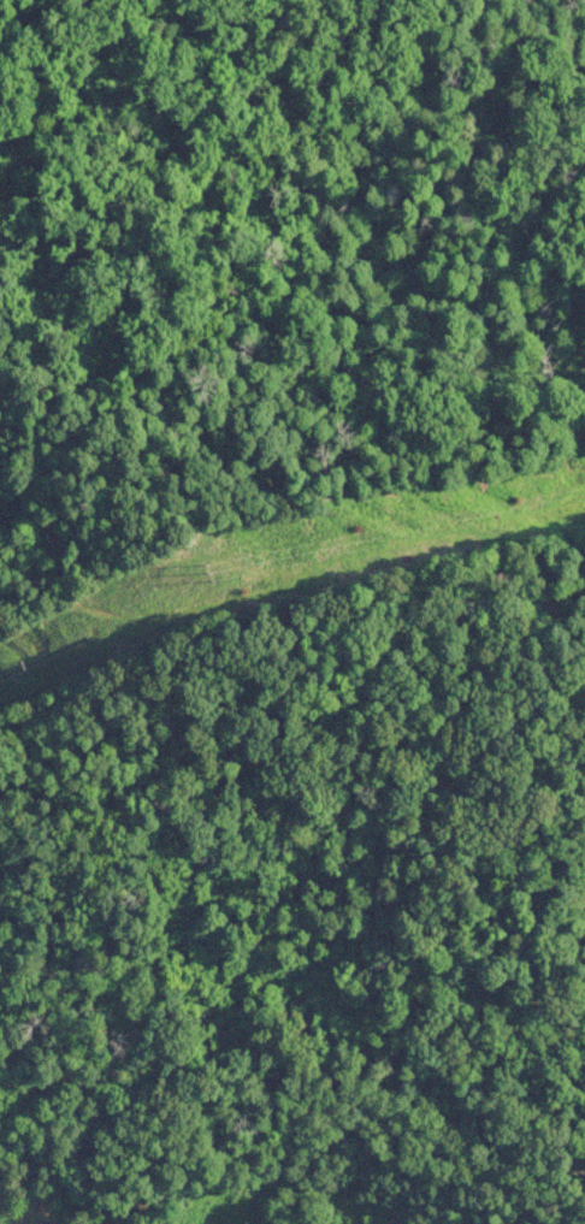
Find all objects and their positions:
power tower: (202, 568)

